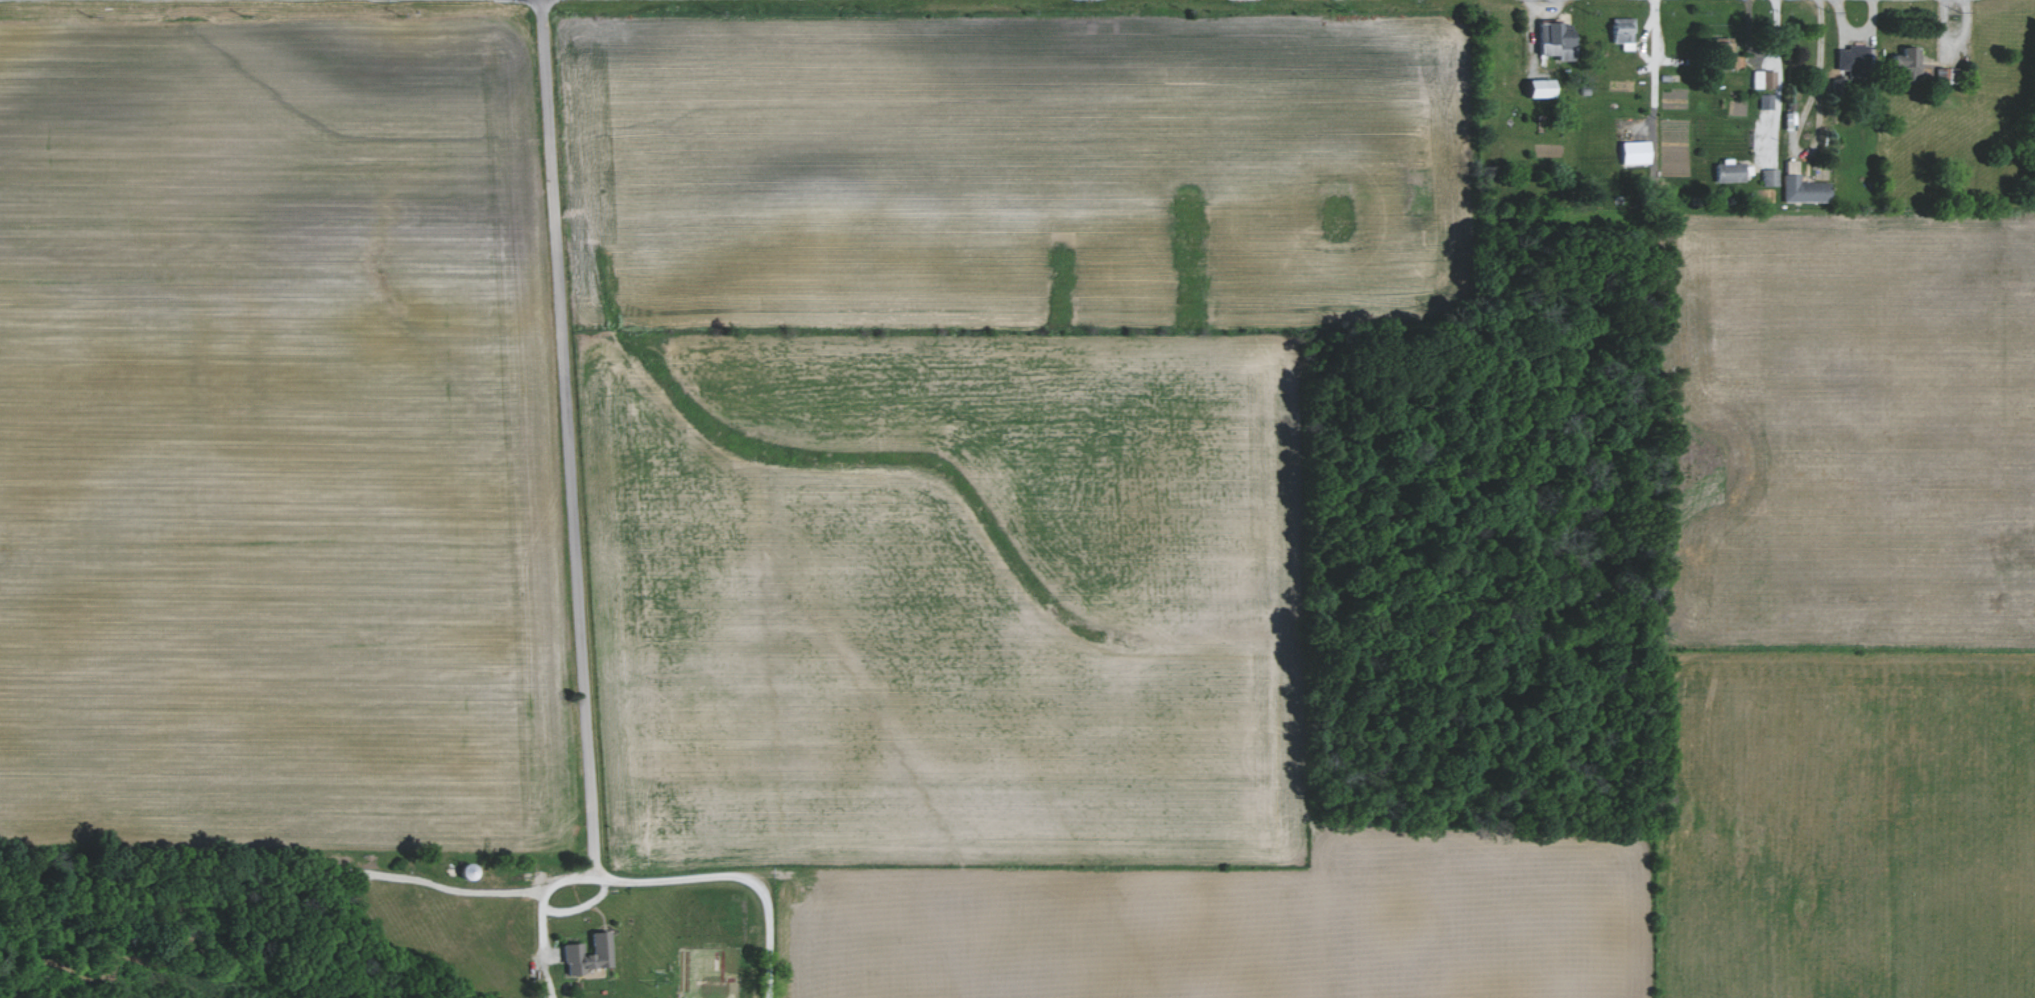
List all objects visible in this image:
building: (1619, 31)
building: (1549, 40)
road: (1821, 43)
building: (1719, 52)
building: (1848, 59)
building: (1903, 61)
road: (1654, 62)
building: (1760, 79)
building: (1533, 87)
building: (1764, 100)
road: (1805, 149)
building: (1631, 151)
building: (1725, 171)
building: (1768, 177)
building: (1799, 186)
road: (572, 576)
road: (549, 906)
building: (582, 954)

